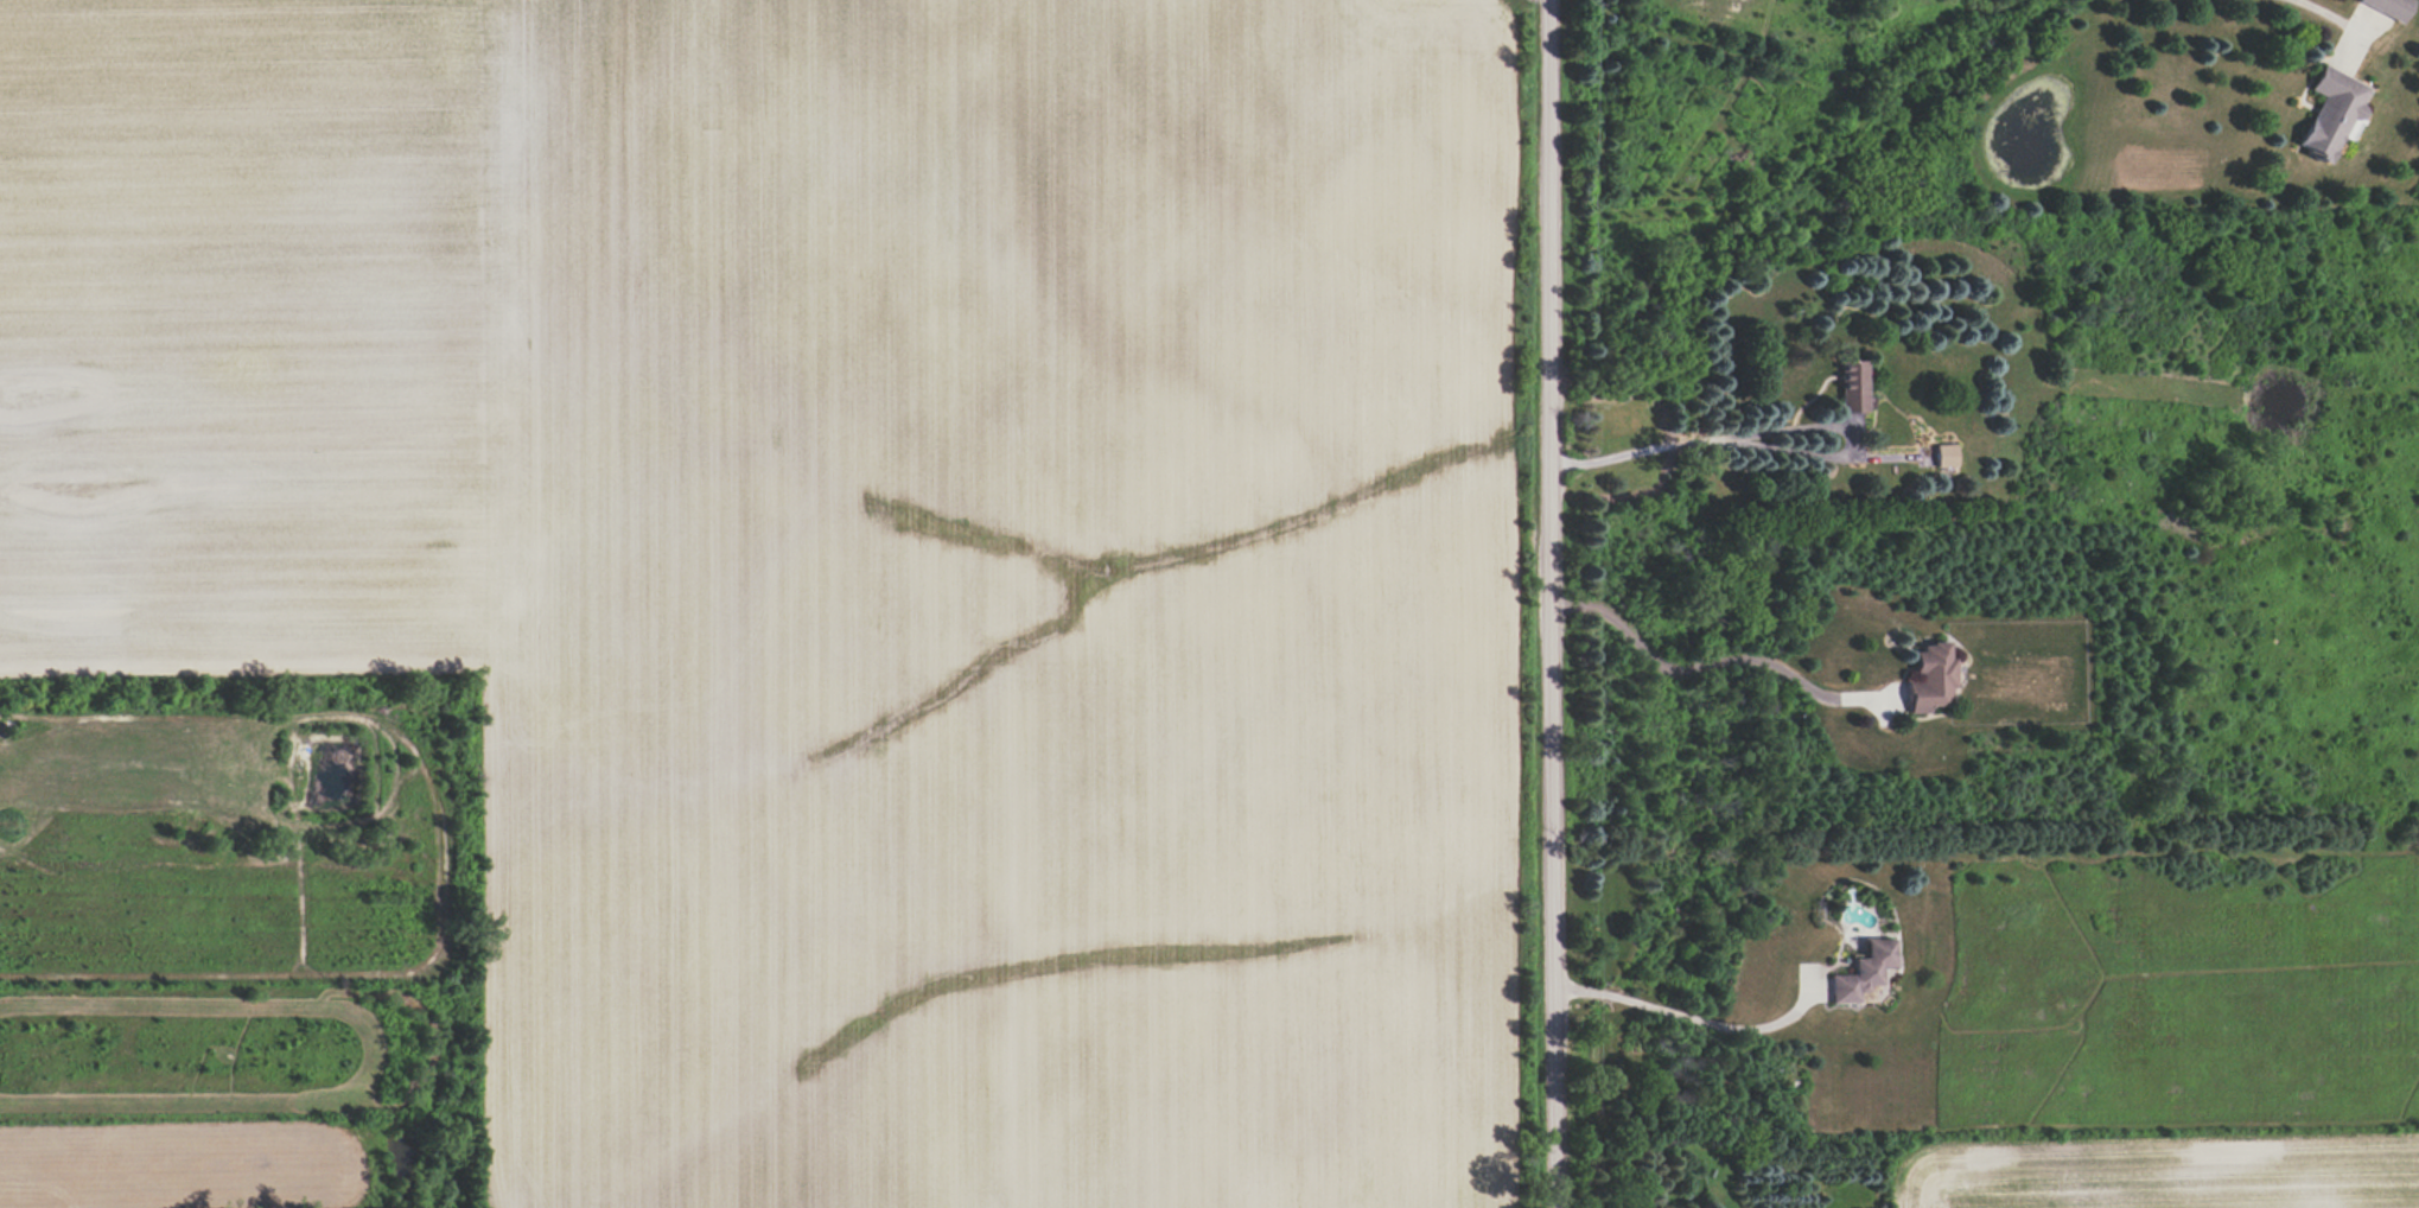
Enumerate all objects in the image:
building: (2388, 7)
road: (2335, 19)
building: (2331, 112)
building: (1851, 387)
road: (1695, 439)
building: (1943, 454)
road: (1551, 603)
road: (1710, 662)
building: (1929, 678)
building: (1863, 972)
road: (1679, 1015)

